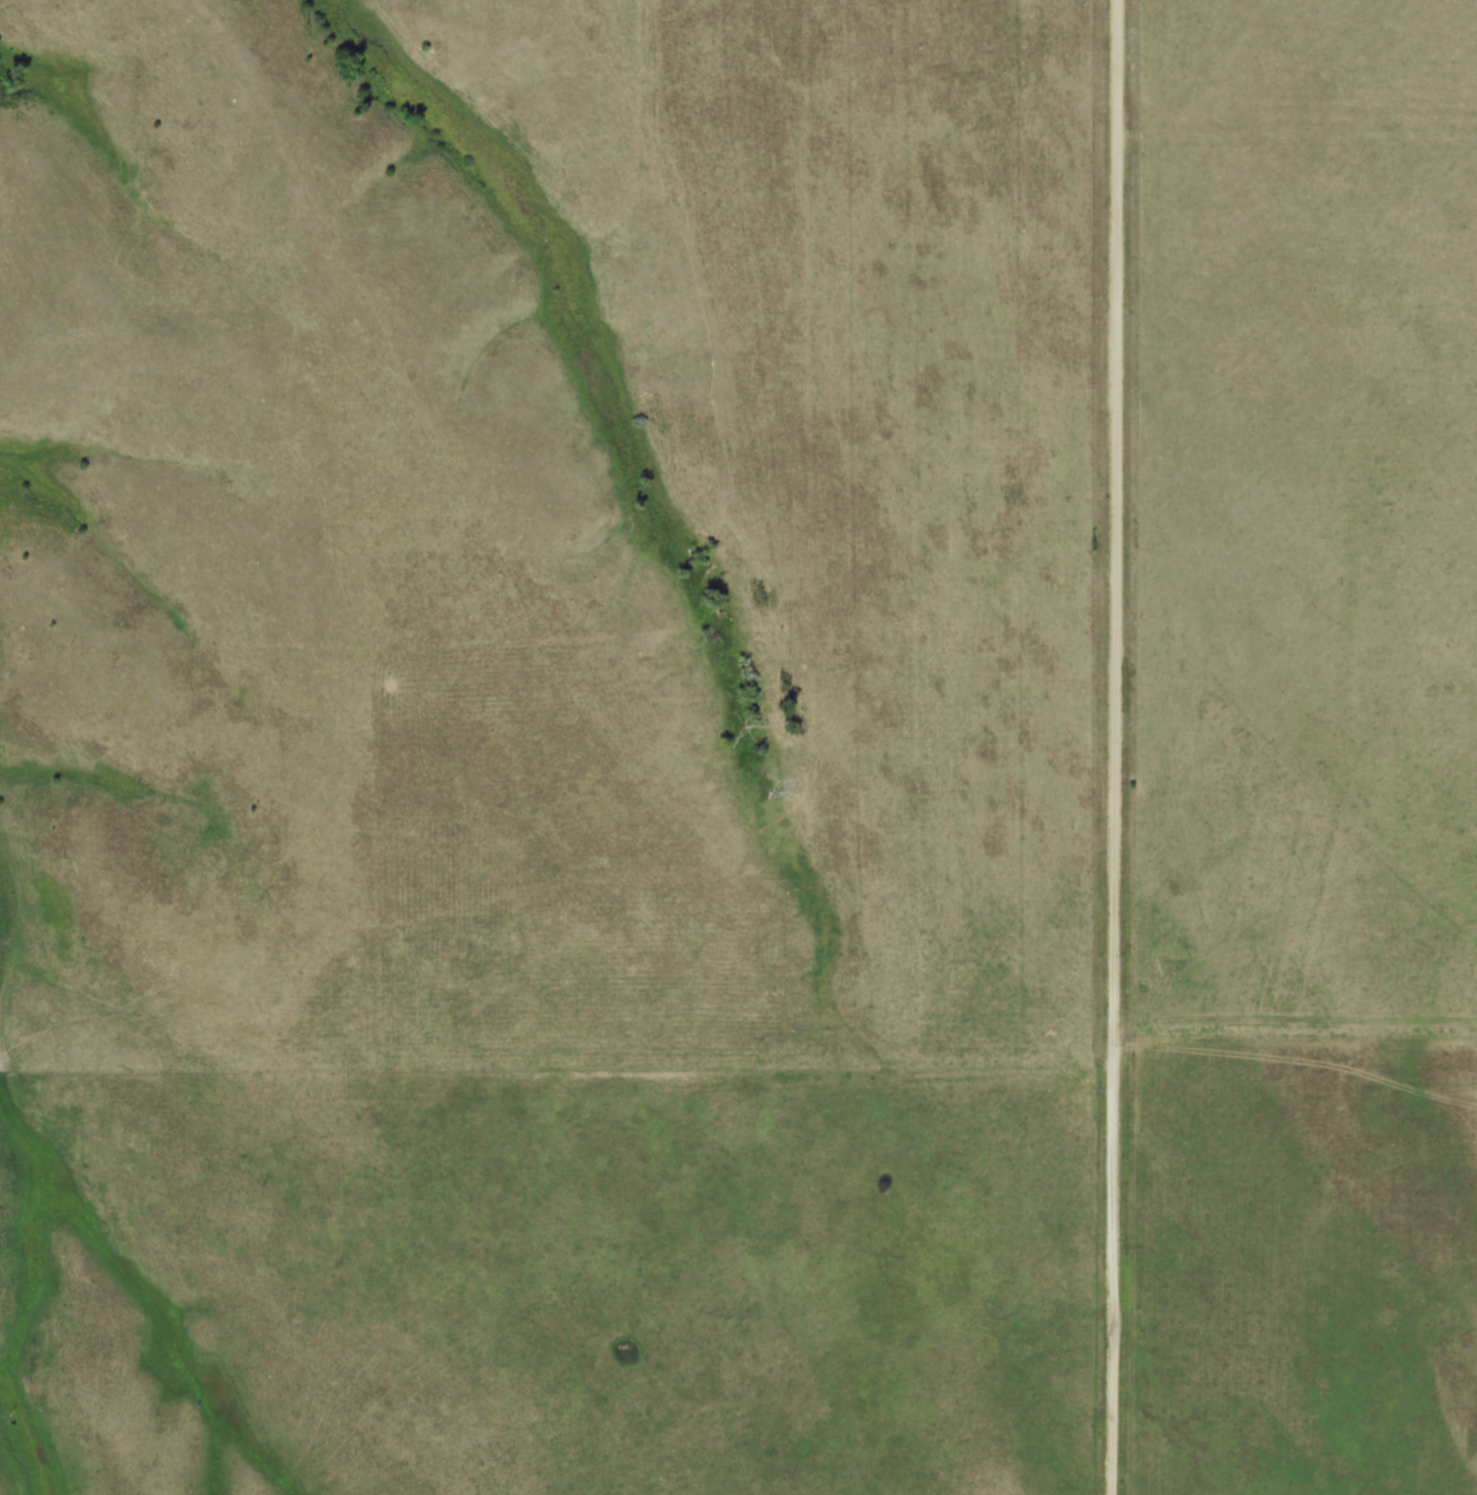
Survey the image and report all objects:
road: (1114, 747)

